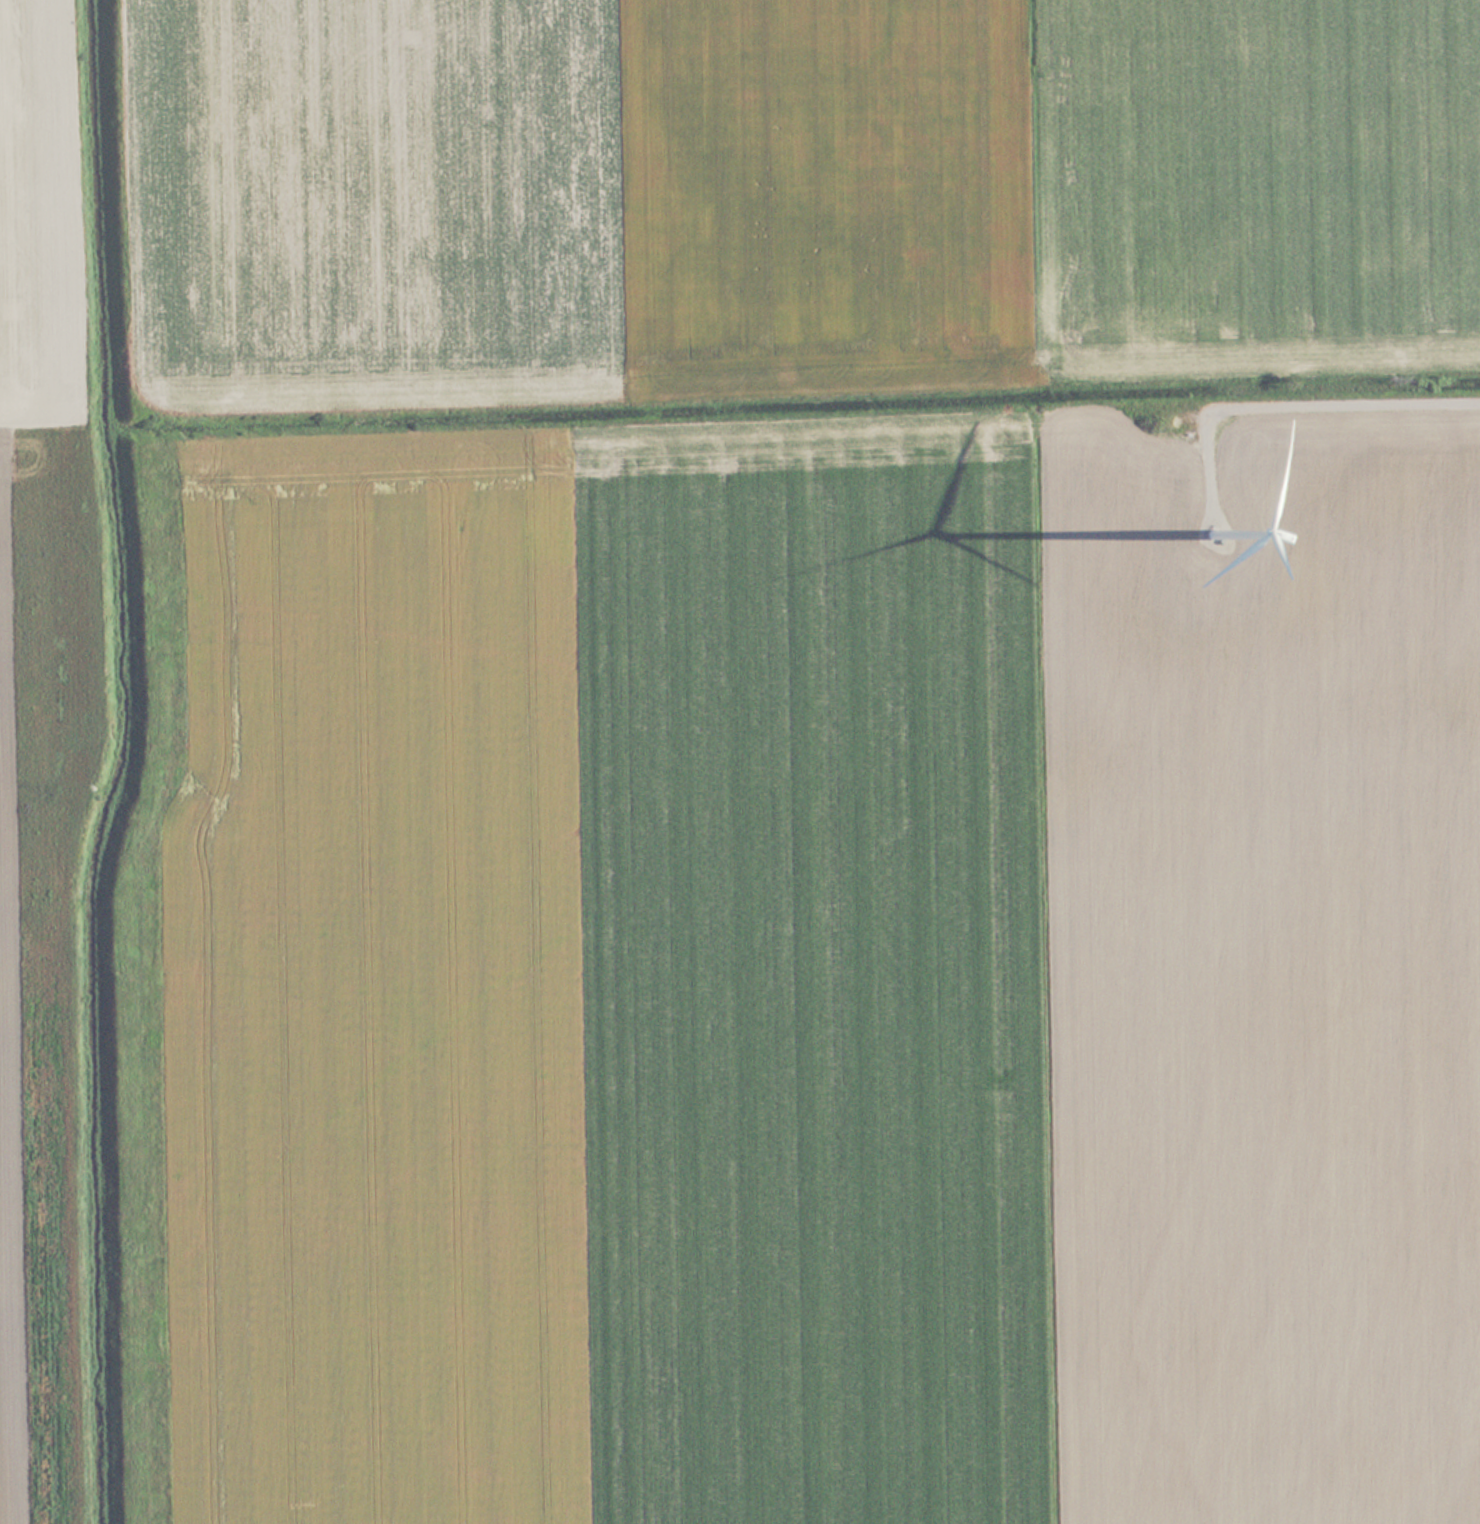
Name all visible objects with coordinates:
road: (1322, 404)
wind turbine: (1212, 526)

